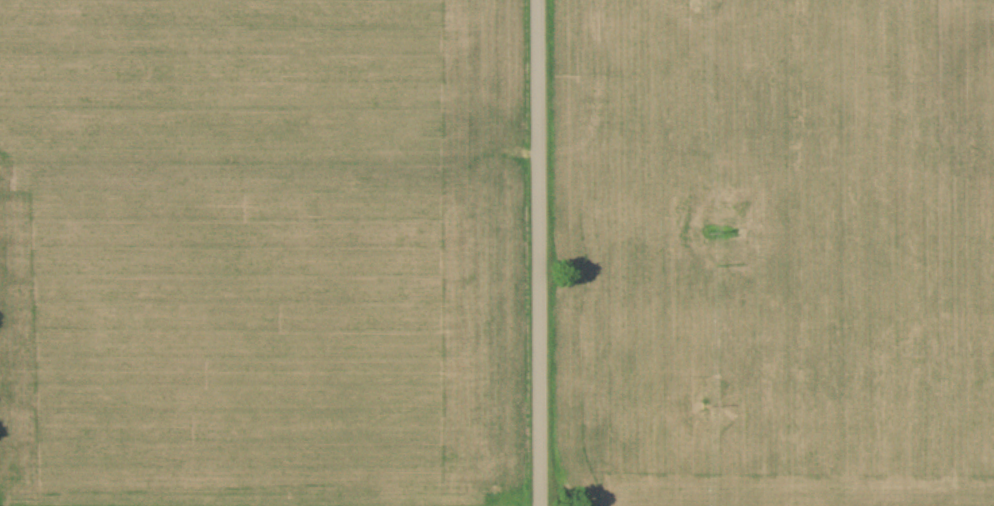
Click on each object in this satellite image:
road: (539, 253)

